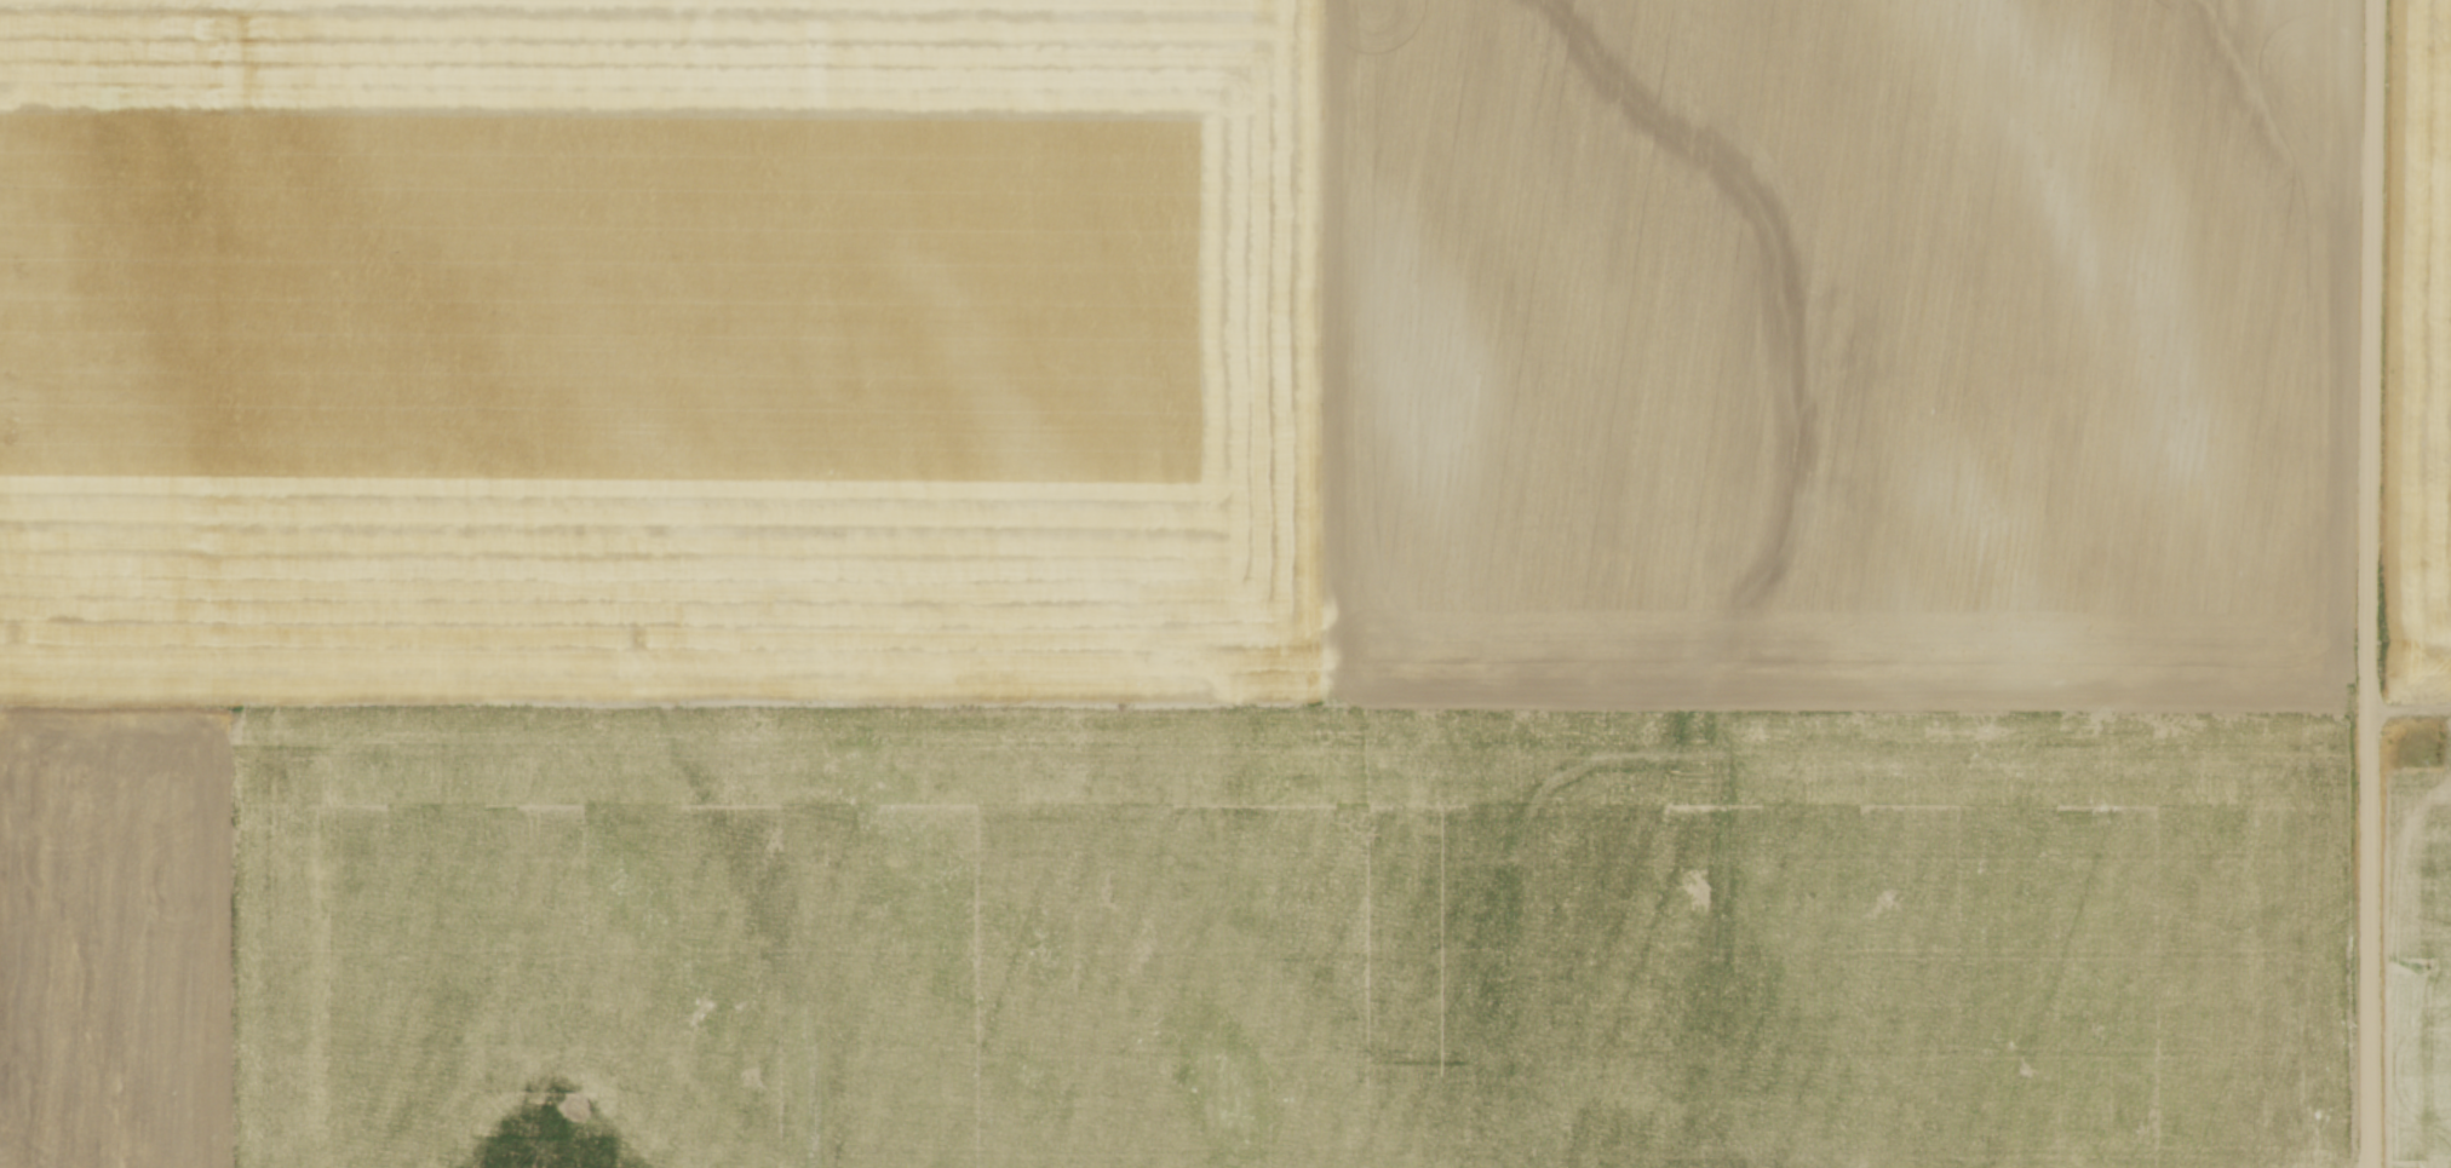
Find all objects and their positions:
crop: (1175, 583)
road: (2369, 583)
crop: (2421, 585)

